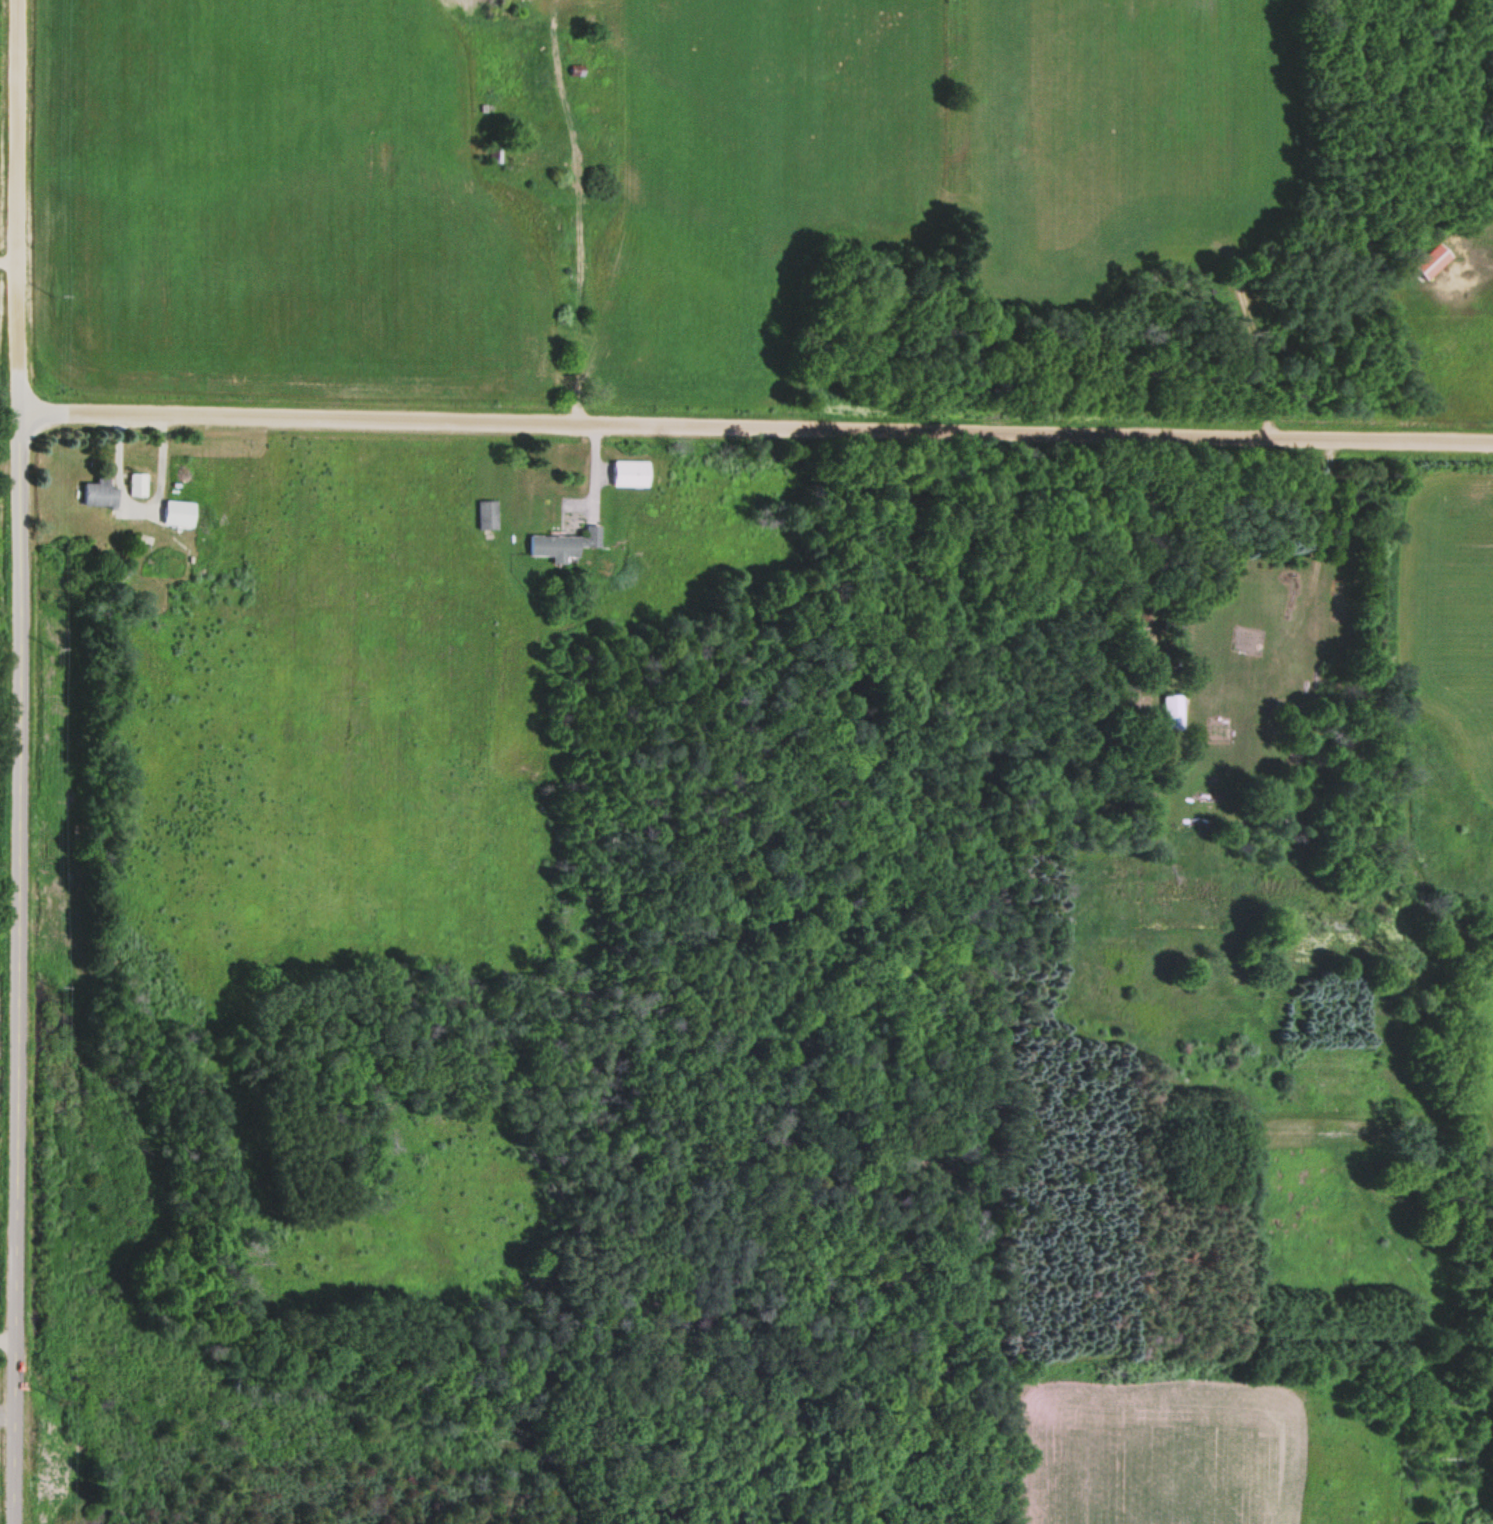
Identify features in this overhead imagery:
building: (1432, 259)
road: (754, 425)
building: (629, 472)
building: (136, 483)
building: (98, 492)
building: (176, 512)
building: (486, 513)
building: (562, 543)
building: (1170, 711)
road: (14, 761)

